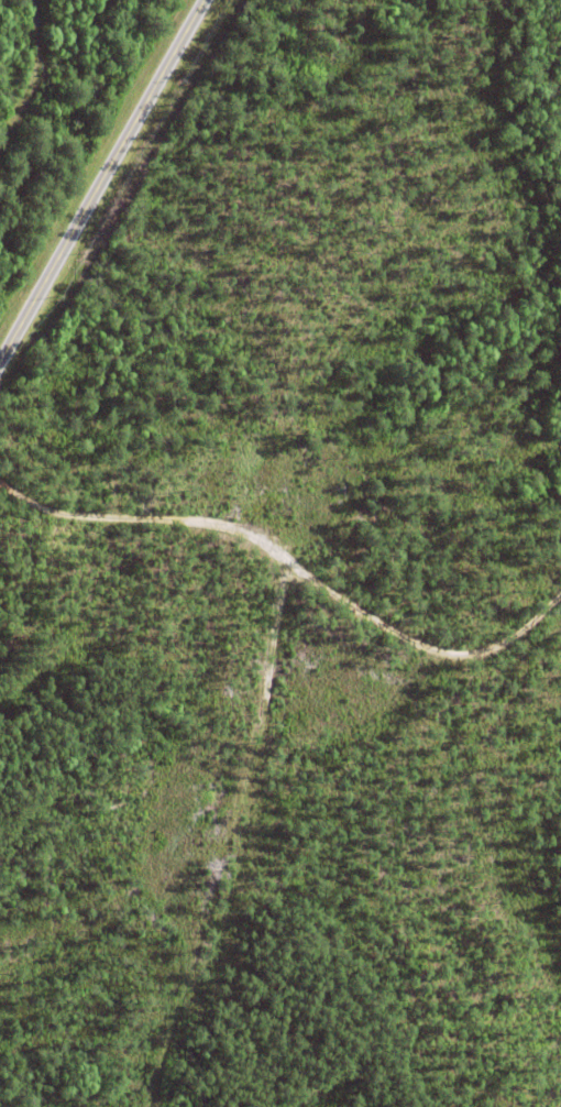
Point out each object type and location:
road: (101, 180)
road: (295, 562)

